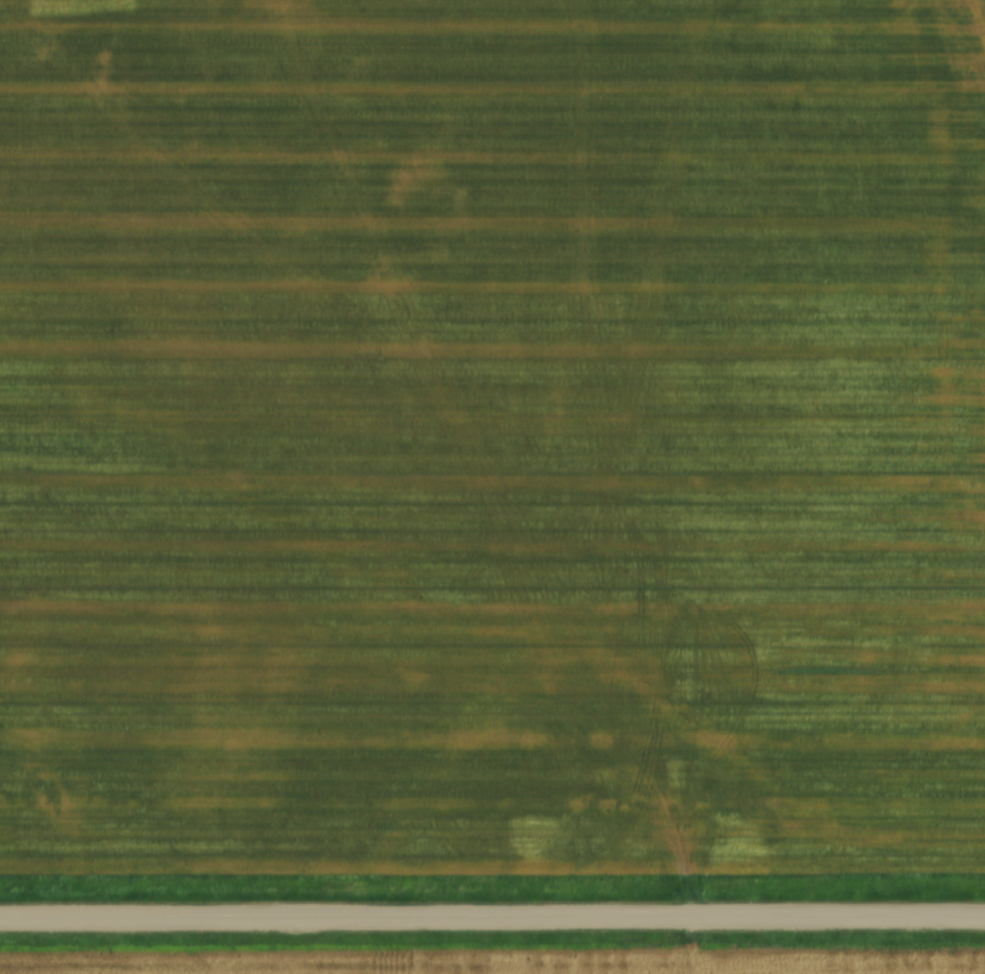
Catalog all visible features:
road: (492, 921)

